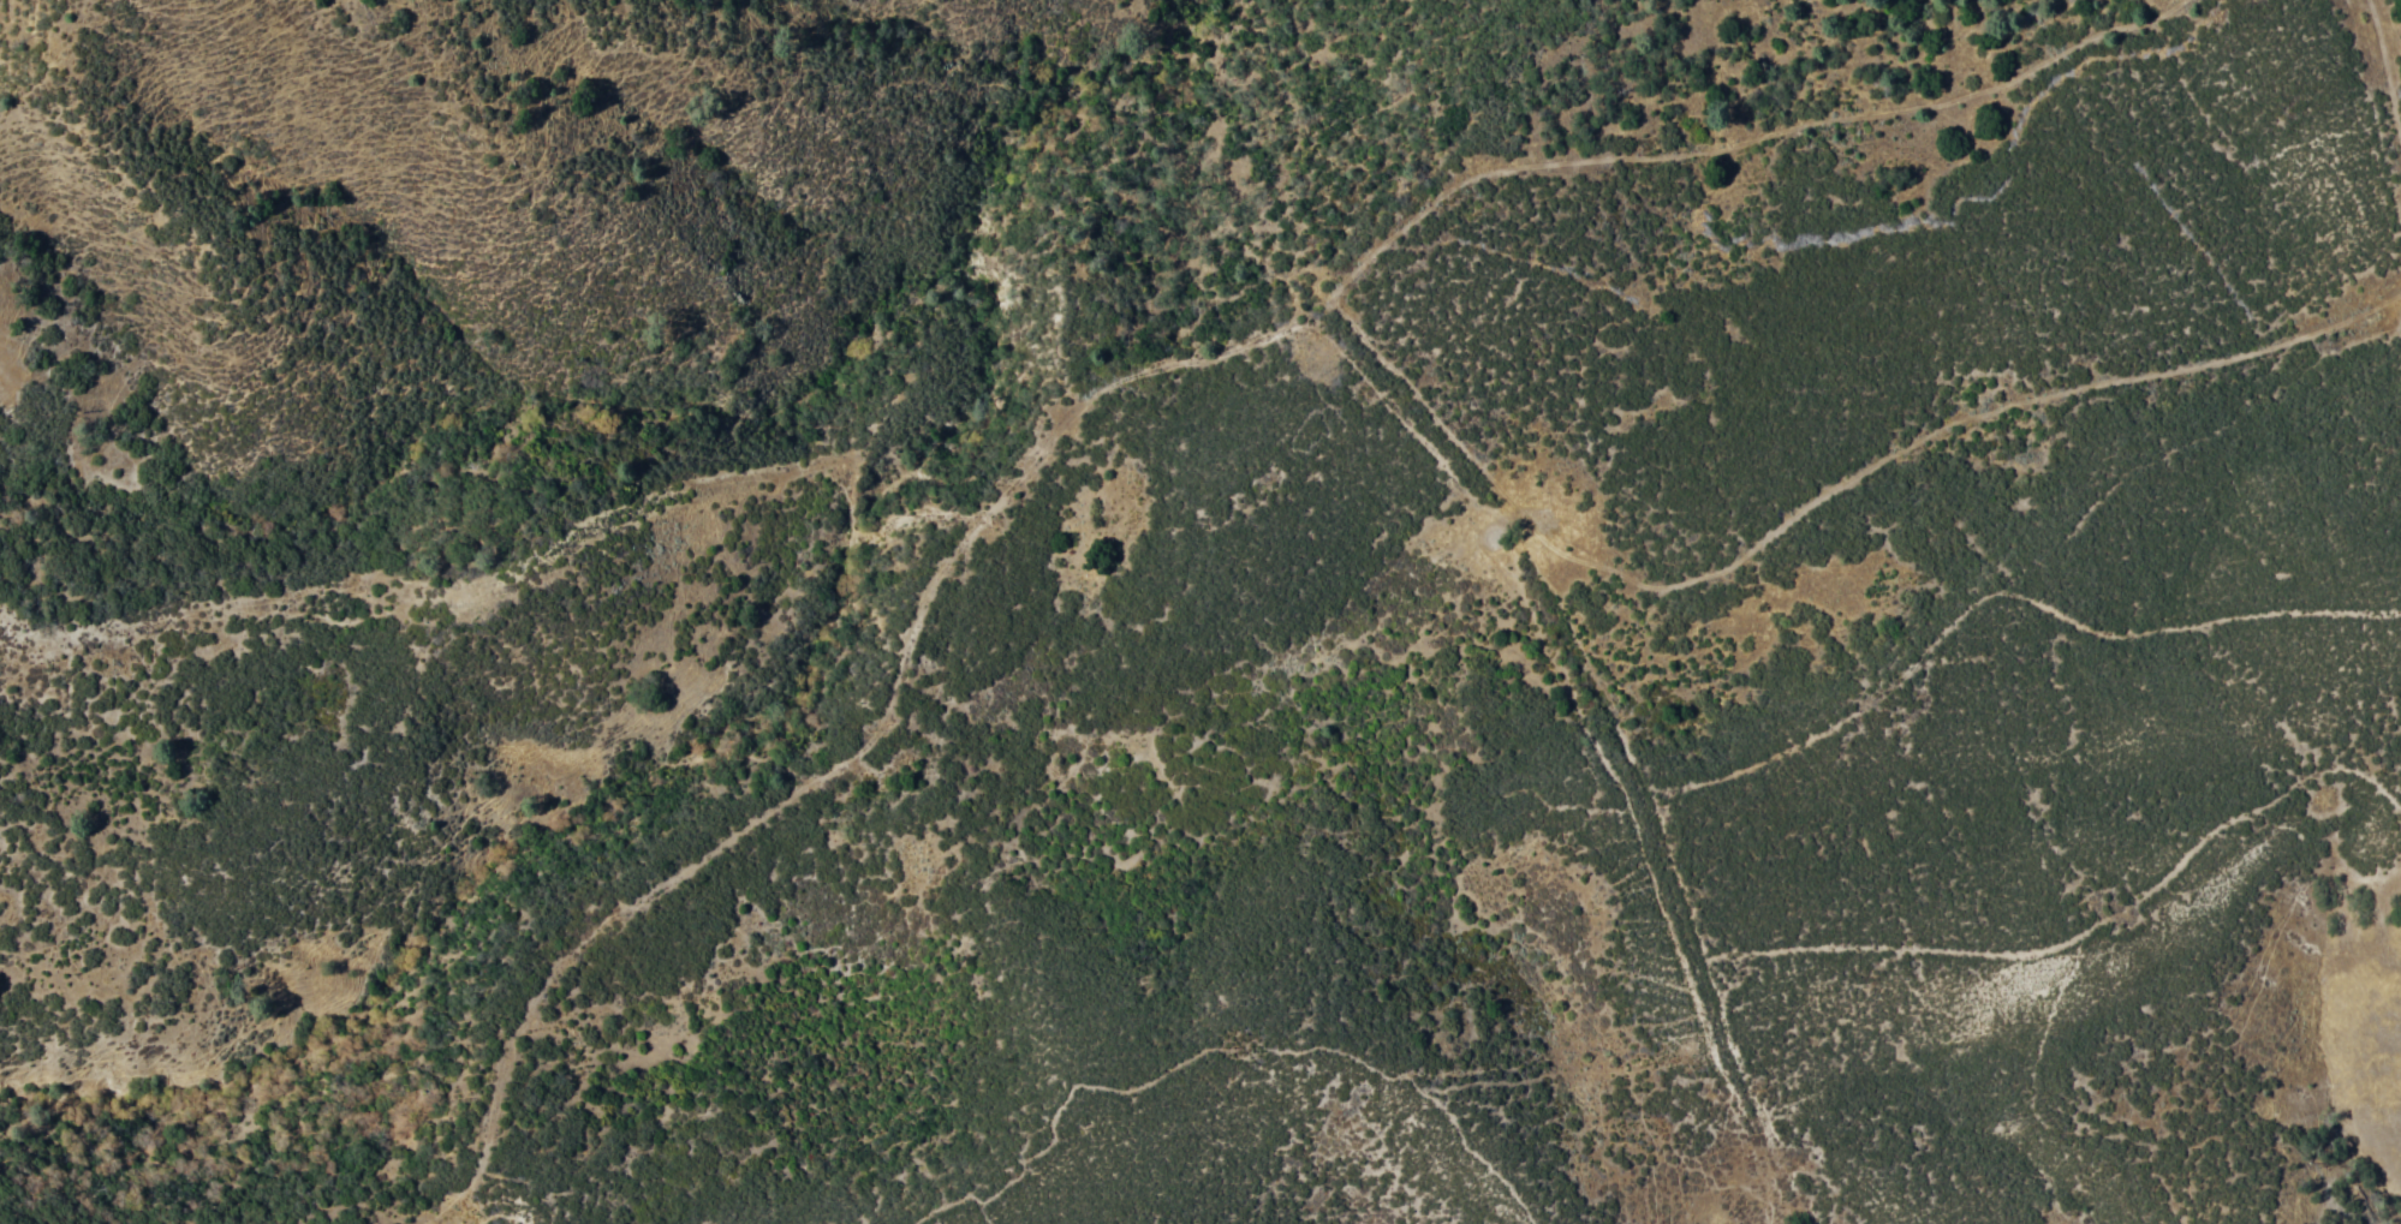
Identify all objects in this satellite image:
road: (2062, 404)

